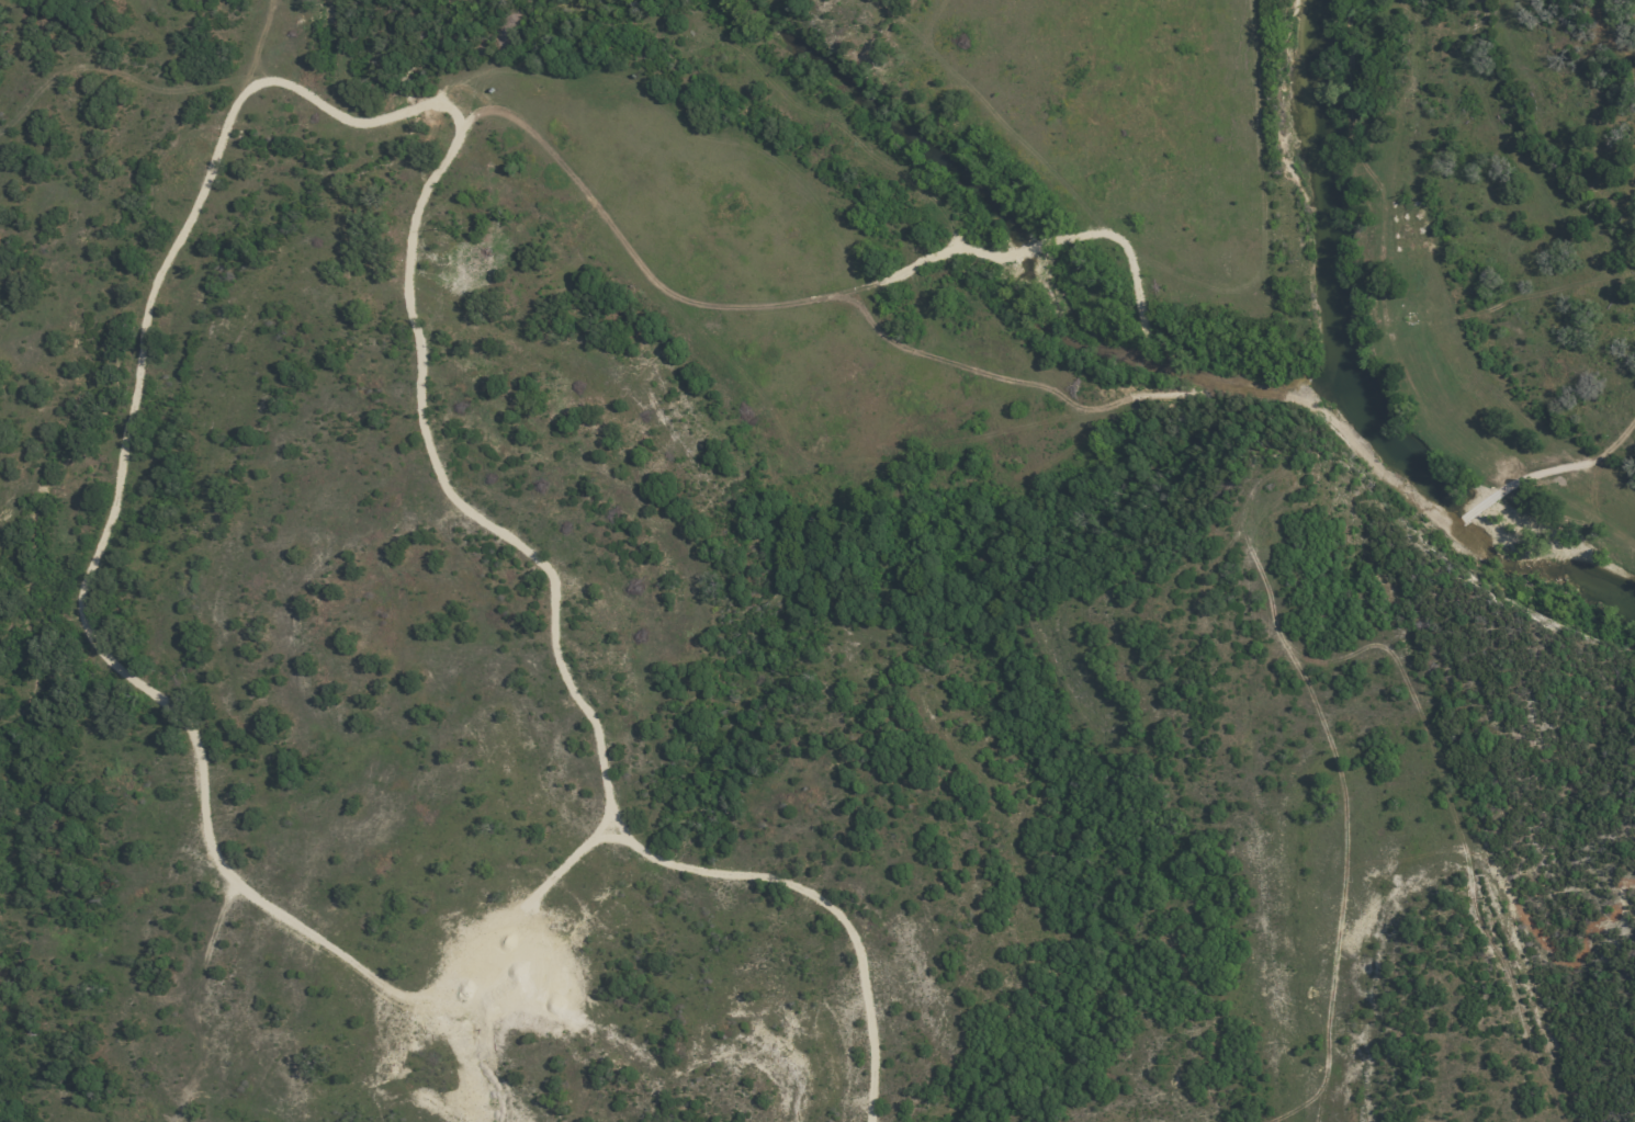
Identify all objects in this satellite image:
river: (1351, 369)

